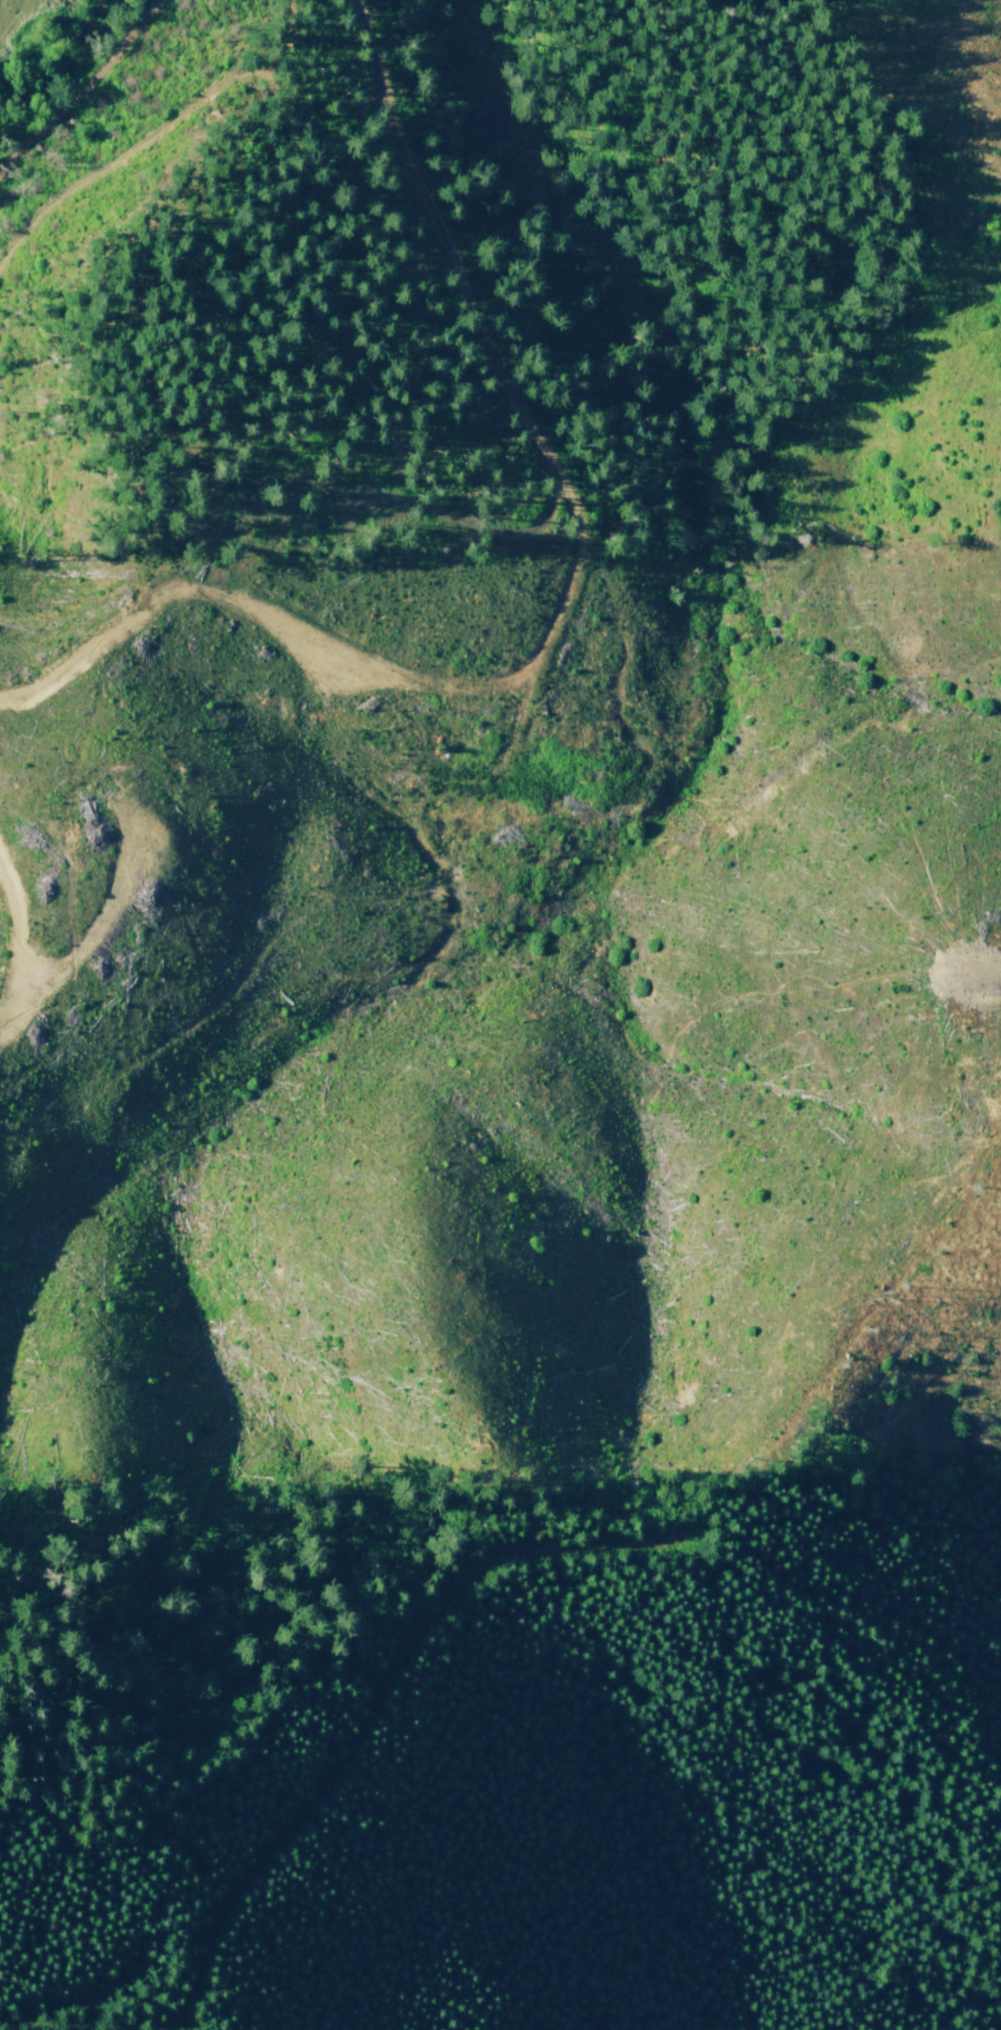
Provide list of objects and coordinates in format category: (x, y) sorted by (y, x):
road: (380, 1727)
road: (37, 2026)

